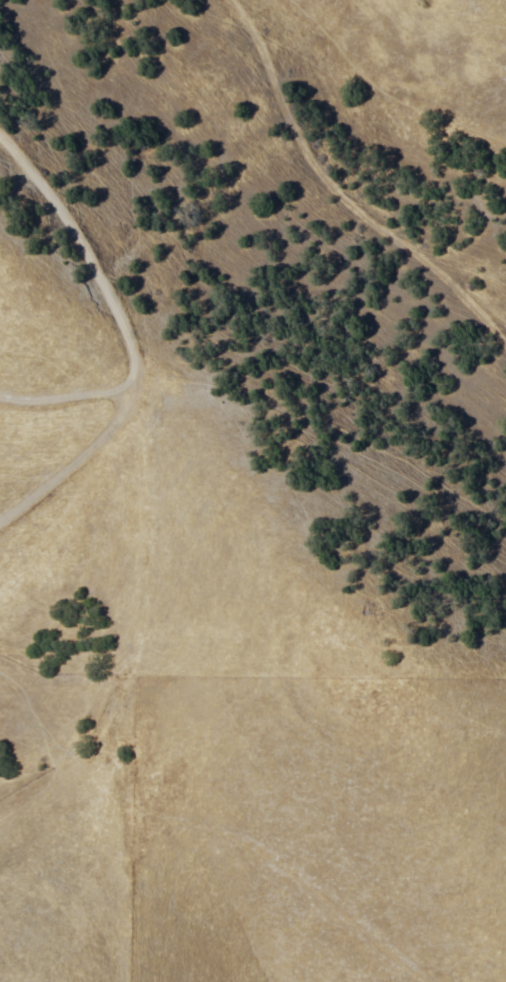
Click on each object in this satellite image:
road: (117, 337)
road: (277, 551)

